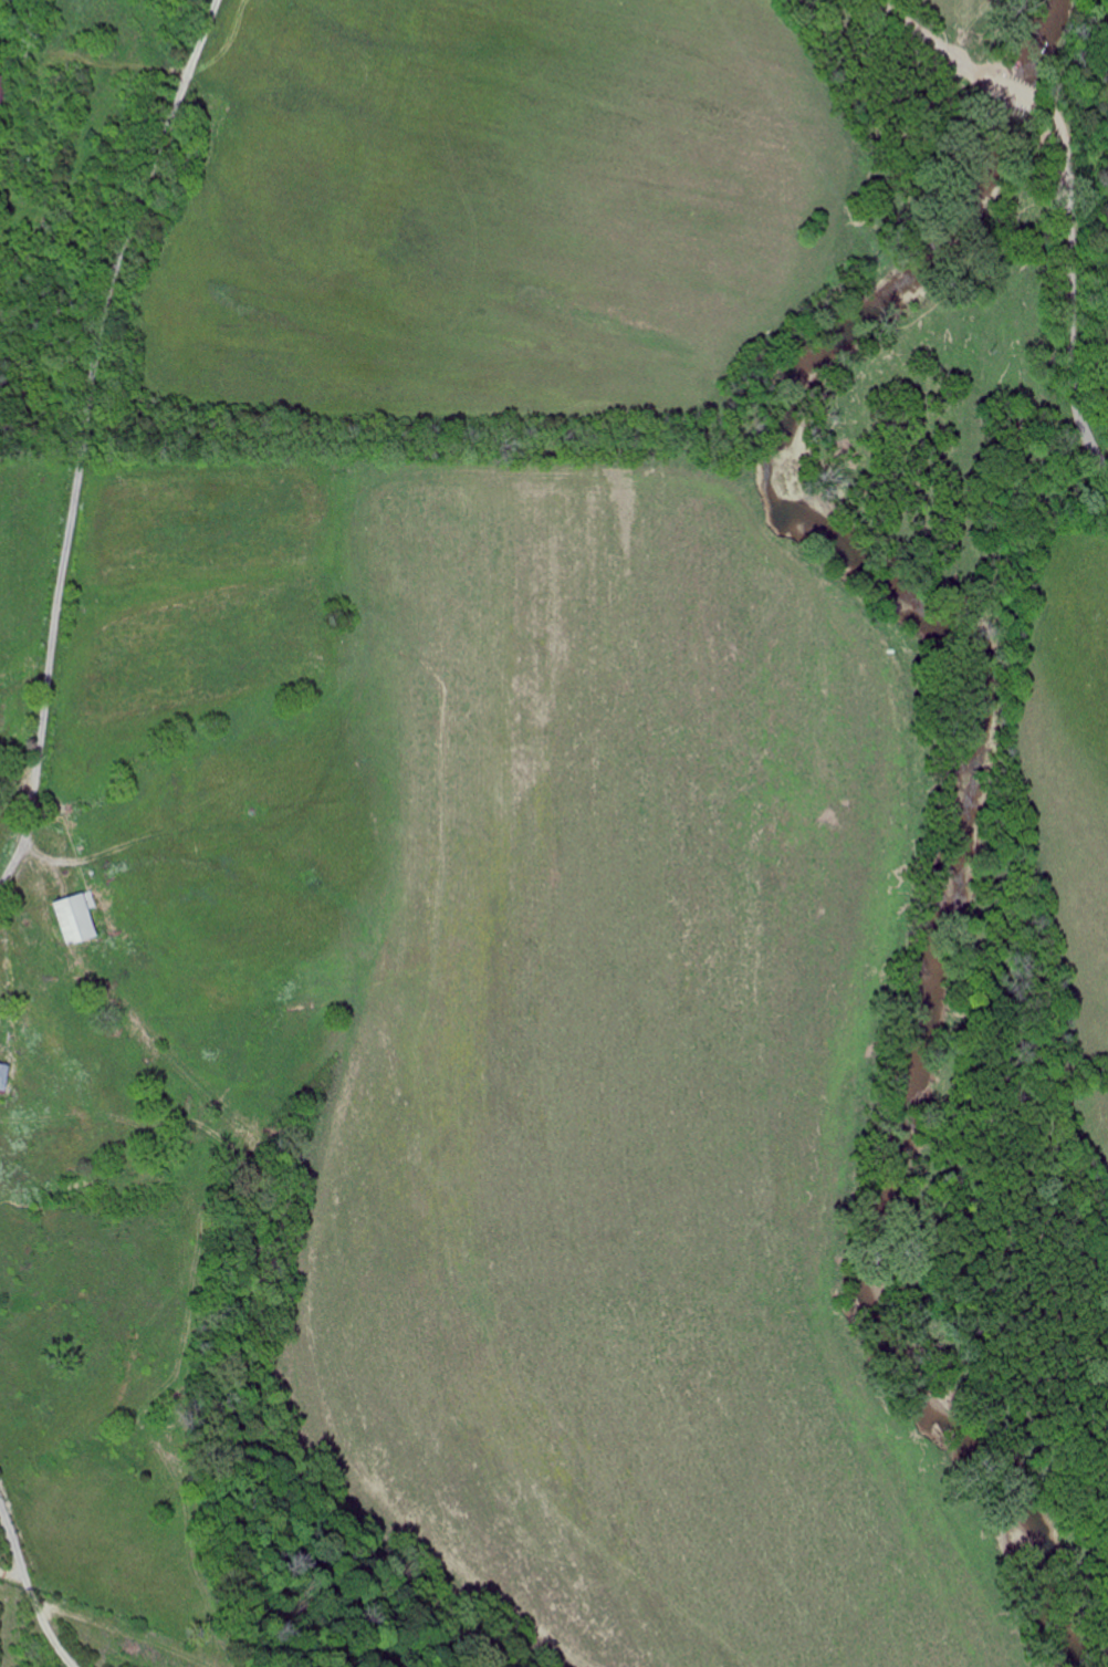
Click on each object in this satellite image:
road: (1072, 177)
road: (81, 437)
building: (69, 919)
road: (12, 1543)
road: (46, 1624)

